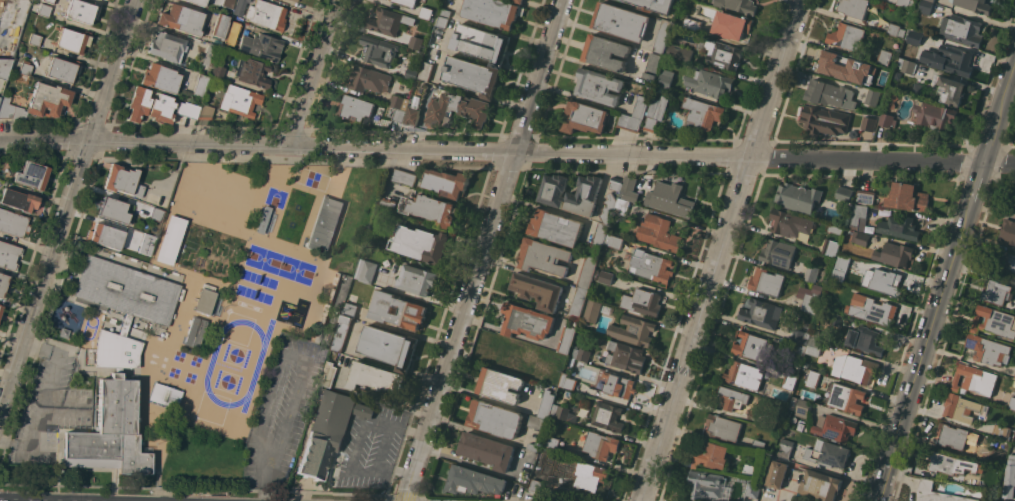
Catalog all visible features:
building: (104, 0)
building: (294, 0)
building: (931, 0)
building: (50, 1)
building: (519, 1)
building: (198, 2)
building: (407, 2)
building: (907, 3)
building: (654, 5)
building: (739, 5)
building: (975, 5)
building: (228, 6)
building: (923, 6)
building: (239, 7)
building: (853, 7)
building: (44, 11)
building: (82, 11)
building: (445, 11)
building: (425, 12)
building: (493, 12)
building: (266, 15)
building: (181, 20)
building: (388, 21)
building: (621, 21)
building: (7, 23)
building: (692, 23)
building: (731, 25)
building: (219, 26)
building: (439, 30)
building: (896, 30)
building: (962, 30)
building: (663, 35)
building: (846, 36)
building: (914, 37)
building: (34, 40)
building: (72, 40)
building: (415, 41)
building: (482, 43)
building: (230, 46)
building: (167, 47)
building: (261, 47)
building: (379, 50)
building: (605, 52)
building: (680, 52)
building: (723, 53)
building: (210, 55)
building: (885, 56)
building: (950, 59)
building: (653, 65)
building: (907, 65)
building: (849, 67)
building: (3, 69)
building: (25, 69)
building: (62, 69)
building: (426, 70)
building: (218, 72)
road: (313, 72)
building: (252, 73)
building: (412, 73)
building: (472, 75)
building: (898, 75)
building: (160, 78)
building: (369, 78)
building: (666, 78)
building: (22, 79)
building: (709, 82)
building: (598, 85)
building: (200, 86)
road: (1007, 87)
building: (918, 88)
building: (952, 90)
building: (831, 94)
building: (896, 95)
building: (872, 97)
building: (47, 100)
building: (239, 101)
building: (399, 102)
building: (416, 103)
building: (138, 104)
building: (641, 106)
building: (354, 107)
building: (161, 108)
building: (9, 109)
building: (457, 109)
building: (187, 110)
building: (205, 112)
building: (656, 112)
building: (703, 113)
building: (398, 114)
building: (936, 115)
building: (585, 117)
building: (888, 119)
building: (825, 120)
building: (630, 122)
building: (869, 123)
building: (853, 132)
road: (991, 138)
road: (507, 152)
building: (31, 175)
building: (404, 177)
building: (123, 181)
building: (446, 182)
building: (617, 183)
building: (629, 188)
building: (571, 193)
building: (845, 193)
road: (973, 193)
building: (798, 196)
building: (866, 196)
building: (908, 197)
building: (670, 199)
building: (19, 200)
building: (386, 204)
building: (623, 204)
building: (1014, 207)
building: (239, 208)
building: (430, 208)
building: (608, 209)
road: (67, 210)
building: (113, 210)
building: (156, 215)
building: (858, 217)
building: (263, 220)
building: (378, 222)
building: (13, 223)
building: (325, 224)
building: (791, 224)
building: (556, 227)
building: (900, 227)
building: (836, 229)
building: (1008, 231)
building: (659, 232)
building: (105, 236)
building: (599, 236)
building: (861, 238)
building: (170, 240)
building: (615, 240)
building: (421, 243)
building: (147, 244)
building: (830, 247)
road: (483, 250)
road: (721, 250)
building: (778, 252)
building: (895, 254)
building: (8, 255)
building: (544, 256)
building: (1005, 263)
building: (651, 265)
building: (841, 267)
building: (366, 271)
building: (587, 271)
building: (811, 273)
building: (606, 277)
building: (417, 279)
building: (766, 281)
building: (886, 281)
building: (3, 285)
building: (538, 290)
building: (125, 291)
building: (995, 291)
building: (813, 299)
building: (579, 300)
building: (204, 301)
building: (642, 301)
building: (0, 307)
building: (350, 309)
building: (872, 309)
building: (413, 310)
building: (592, 310)
building: (761, 313)
building: (835, 319)
building: (527, 321)
building: (994, 321)
building: (125, 325)
building: (633, 330)
building: (342, 332)
building: (64, 333)
building: (195, 333)
building: (818, 334)
building: (801, 336)
building: (566, 339)
building: (864, 340)
road: (927, 342)
building: (389, 346)
building: (752, 346)
building: (815, 346)
building: (797, 349)
building: (988, 349)
building: (115, 351)
road: (291, 353)
building: (514, 353)
building: (581, 354)
building: (626, 356)
building: (855, 368)
building: (118, 370)
building: (329, 374)
building: (557, 374)
building: (744, 375)
building: (1014, 377)
building: (375, 378)
building: (812, 378)
building: (974, 379)
building: (789, 380)
building: (568, 383)
building: (500, 385)
building: (619, 385)
building: (165, 395)
building: (733, 397)
building: (847, 398)
building: (1012, 402)
building: (546, 403)
building: (793, 403)
building: (960, 407)
building: (364, 410)
building: (559, 410)
building: (802, 411)
road: (37, 415)
building: (608, 416)
building: (495, 418)
building: (537, 422)
building: (723, 427)
building: (836, 428)
building: (326, 431)
building: (1002, 431)
building: (111, 432)
building: (953, 435)
building: (552, 442)
road: (361, 443)
building: (759, 444)
building: (600, 445)
building: (533, 447)
building: (784, 448)
building: (487, 450)
building: (828, 453)
building: (712, 454)
building: (997, 456)
building: (942, 462)
road: (475, 465)
building: (748, 469)
building: (776, 474)
building: (588, 475)
building: (1010, 478)
road: (884, 480)
building: (474, 481)
building: (995, 482)
building: (706, 484)
building: (536, 485)
building: (820, 485)
building: (753, 489)
road: (265, 492)
building: (937, 493)

